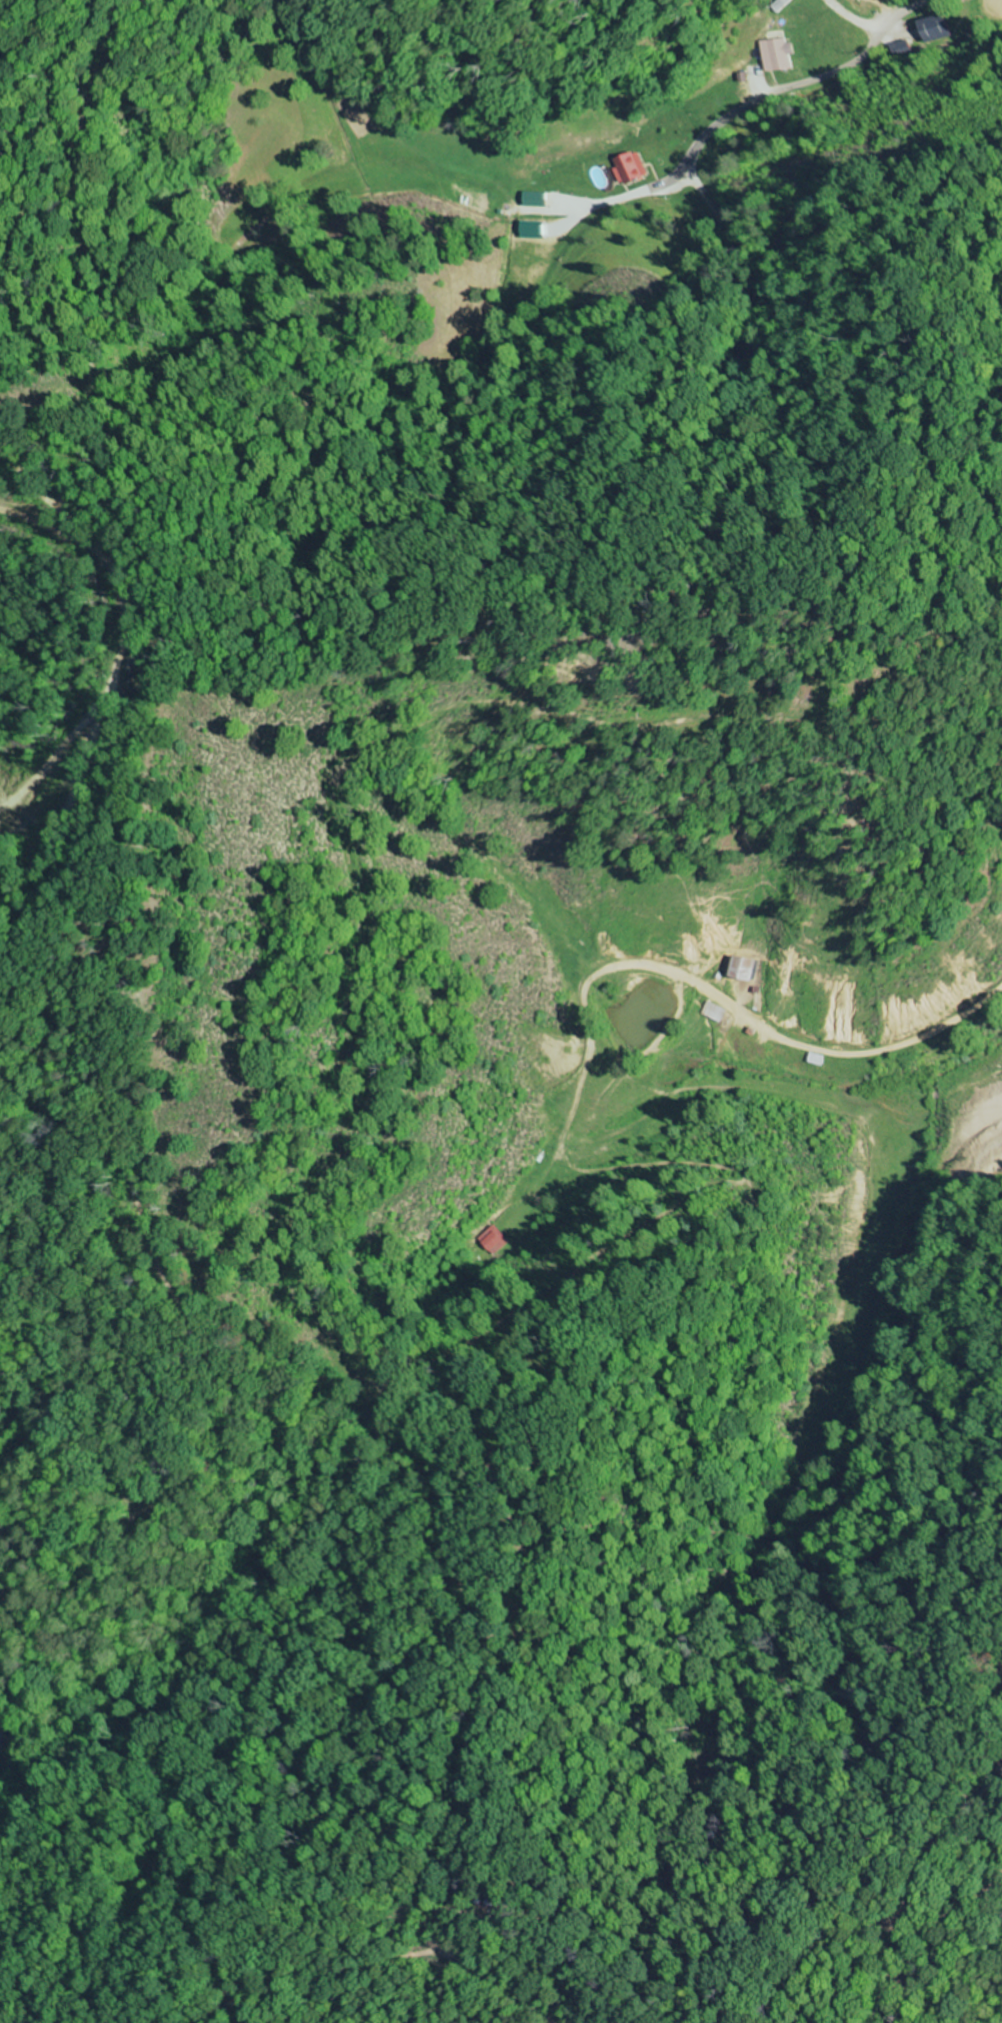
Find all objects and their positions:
building: (931, 28)
road: (870, 36)
building: (778, 54)
building: (630, 168)
building: (716, 1012)
building: (820, 1059)
building: (2, 1740)

